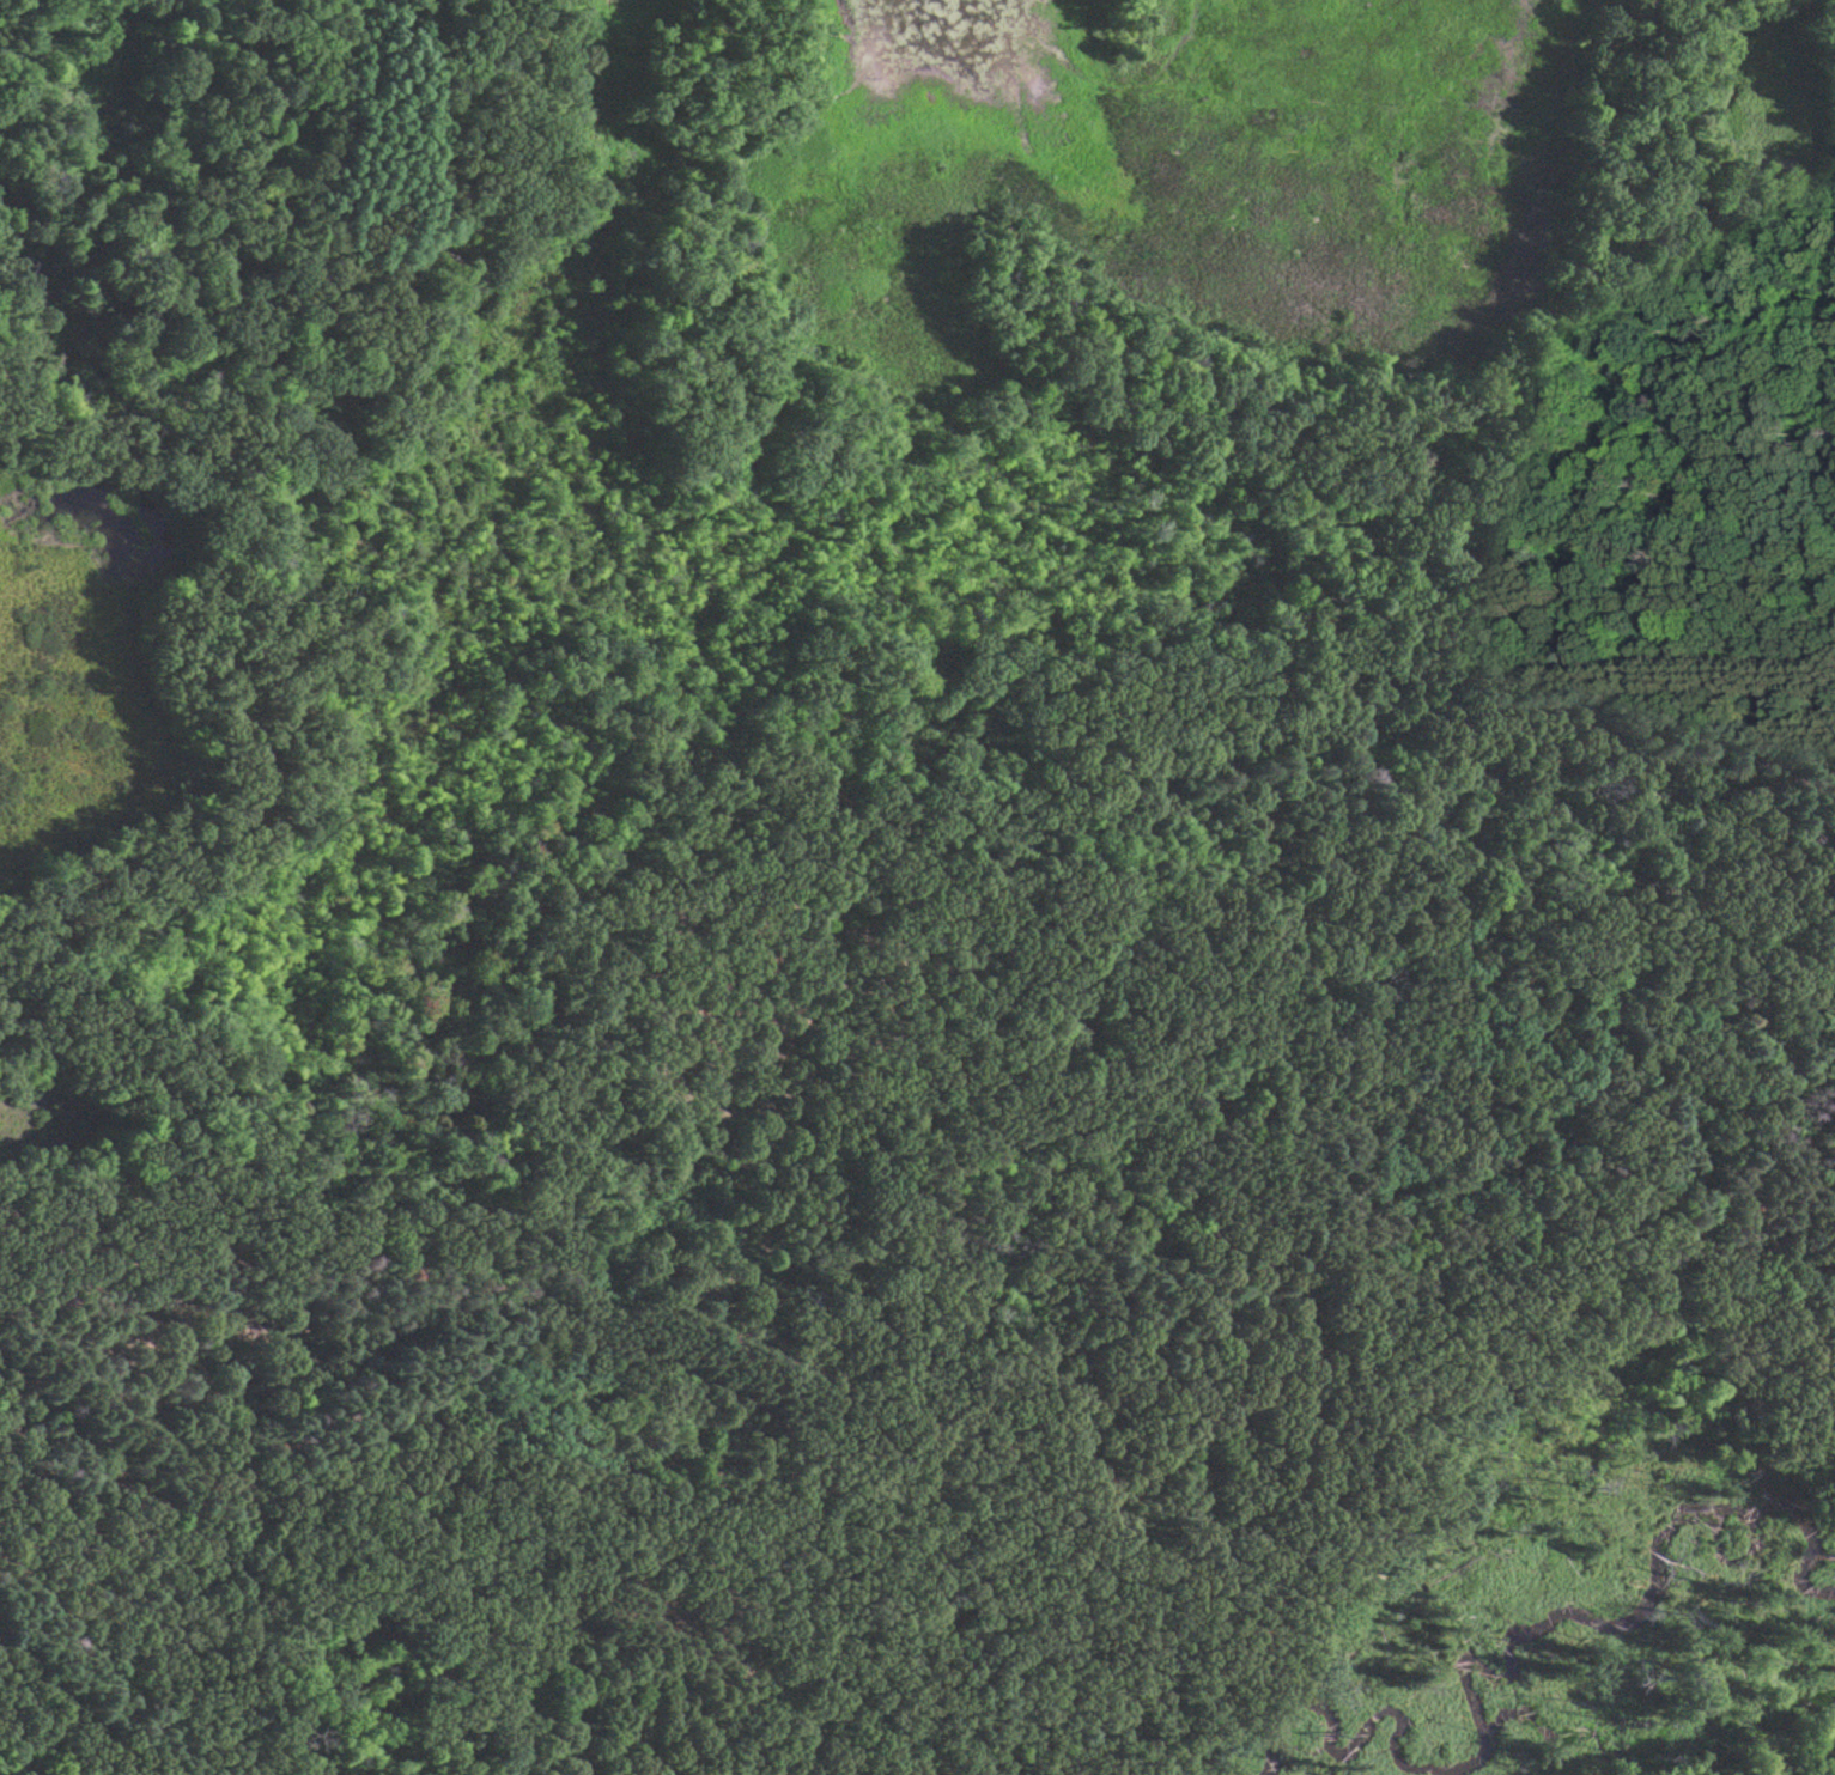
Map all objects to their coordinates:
road: (400, 299)
road: (207, 449)
road: (1807, 547)
road: (1491, 563)
road: (223, 782)
road: (877, 928)
road: (825, 1331)
road: (1252, 1400)
road: (218, 1484)
road: (75, 1747)

